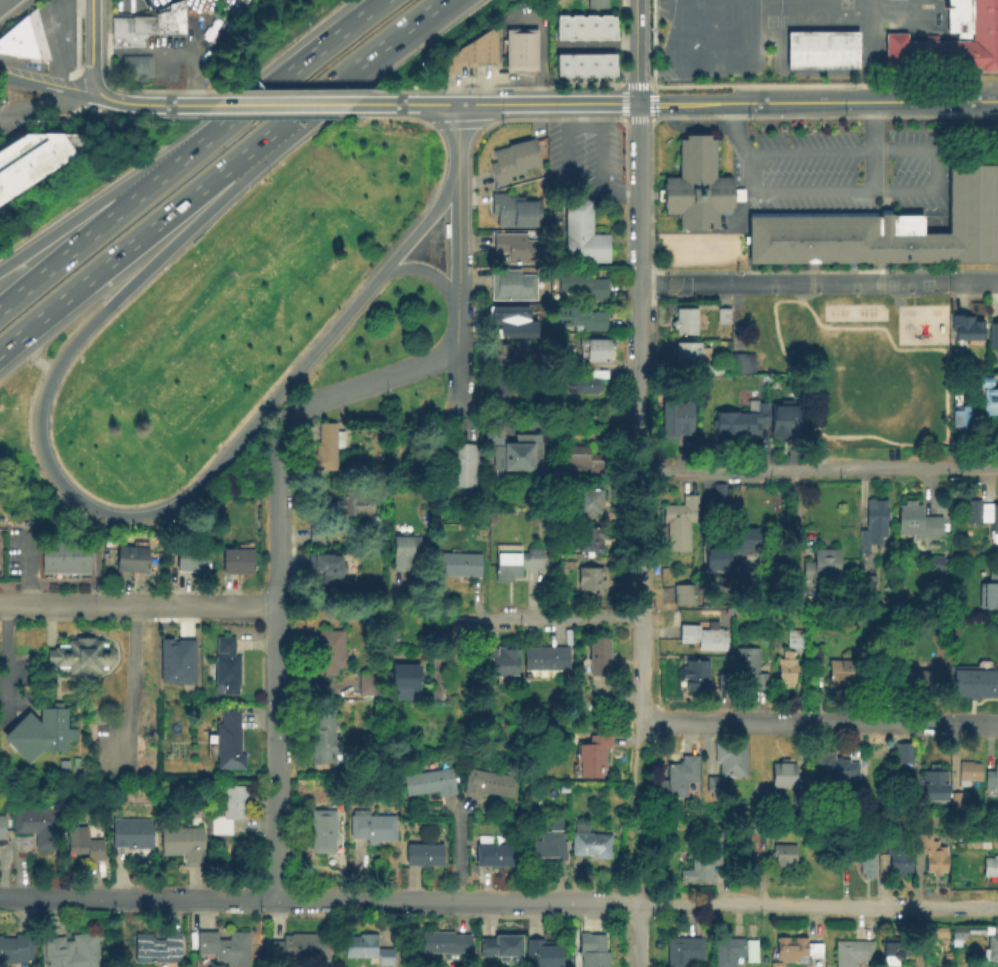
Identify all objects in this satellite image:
building: (595, 3)
building: (175, 8)
road: (424, 11)
building: (160, 20)
building: (118, 23)
building: (140, 23)
building: (175, 24)
building: (561, 26)
building: (576, 27)
building: (591, 27)
building: (606, 27)
building: (124, 38)
road: (48, 39)
building: (24, 40)
building: (952, 41)
road: (540, 42)
road: (595, 45)
building: (519, 48)
road: (166, 50)
road: (635, 50)
road: (87, 51)
building: (471, 51)
building: (822, 51)
building: (561, 64)
building: (576, 64)
building: (591, 64)
building: (606, 64)
building: (134, 65)
road: (483, 76)
road: (28, 83)
road: (329, 83)
road: (483, 89)
road: (262, 93)
road: (79, 94)
road: (816, 100)
road: (313, 102)
road: (492, 102)
road: (155, 103)
road: (242, 103)
road: (34, 109)
road: (458, 132)
road: (871, 146)
road: (599, 148)
building: (514, 159)
building: (36, 163)
road: (565, 181)
building: (695, 185)
road: (907, 193)
road: (636, 202)
building: (513, 209)
road: (70, 222)
building: (730, 223)
building: (889, 226)
building: (583, 236)
road: (459, 239)
road: (124, 247)
building: (516, 247)
road: (73, 248)
road: (430, 273)
road: (973, 282)
building: (583, 283)
road: (839, 283)
building: (513, 284)
road: (684, 284)
building: (506, 312)
building: (724, 314)
building: (580, 317)
building: (686, 320)
building: (515, 328)
building: (967, 330)
building: (994, 337)
building: (501, 352)
building: (591, 353)
building: (691, 353)
road: (460, 363)
building: (742, 363)
road: (381, 380)
building: (586, 382)
building: (985, 383)
road: (638, 386)
building: (498, 387)
building: (991, 402)
building: (677, 417)
building: (963, 418)
building: (741, 420)
building: (786, 420)
building: (328, 445)
building: (521, 454)
building: (586, 458)
building: (457, 463)
road: (818, 469)
building: (721, 490)
building: (588, 502)
building: (355, 507)
building: (975, 511)
road: (125, 517)
building: (909, 519)
building: (991, 519)
building: (682, 523)
building: (874, 524)
building: (315, 536)
building: (589, 542)
building: (732, 547)
building: (402, 552)
building: (64, 553)
building: (129, 555)
building: (189, 559)
building: (515, 560)
building: (937, 563)
building: (236, 564)
building: (459, 565)
building: (569, 566)
building: (821, 568)
building: (325, 570)
building: (735, 580)
building: (591, 581)
building: (870, 581)
building: (989, 592)
building: (685, 596)
building: (795, 600)
road: (140, 605)
road: (639, 613)
road: (556, 618)
building: (701, 632)
building: (793, 635)
building: (327, 647)
building: (597, 653)
building: (80, 654)
building: (545, 656)
road: (3, 660)
building: (181, 660)
building: (223, 660)
building: (499, 660)
road: (280, 661)
building: (750, 666)
building: (787, 668)
building: (839, 668)
building: (693, 671)
building: (400, 674)
building: (975, 678)
building: (911, 679)
building: (369, 682)
road: (129, 685)
road: (819, 721)
building: (40, 731)
building: (324, 736)
building: (226, 737)
building: (906, 751)
building: (591, 752)
building: (730, 757)
building: (830, 764)
building: (969, 771)
building: (782, 772)
building: (680, 775)
building: (991, 775)
building: (431, 780)
building: (932, 780)
building: (488, 781)
building: (714, 786)
building: (959, 798)
building: (229, 806)
road: (636, 820)
building: (38, 824)
building: (372, 824)
building: (1, 825)
building: (324, 829)
building: (130, 831)
building: (81, 840)
building: (549, 840)
building: (589, 841)
building: (182, 843)
building: (847, 846)
building: (492, 848)
building: (784, 851)
building: (423, 852)
building: (935, 855)
building: (867, 857)
building: (900, 857)
building: (702, 862)
building: (991, 865)
road: (638, 894)
road: (319, 900)
road: (818, 904)
building: (937, 931)
road: (636, 934)
building: (443, 942)
building: (501, 943)
building: (223, 945)
building: (155, 946)
building: (295, 946)
building: (796, 946)
building: (993, 946)
building: (367, 947)
building: (17, 949)
building: (591, 949)
building: (685, 949)
building: (733, 950)
building: (893, 950)
building: (74, 951)
building: (543, 951)
building: (853, 951)

